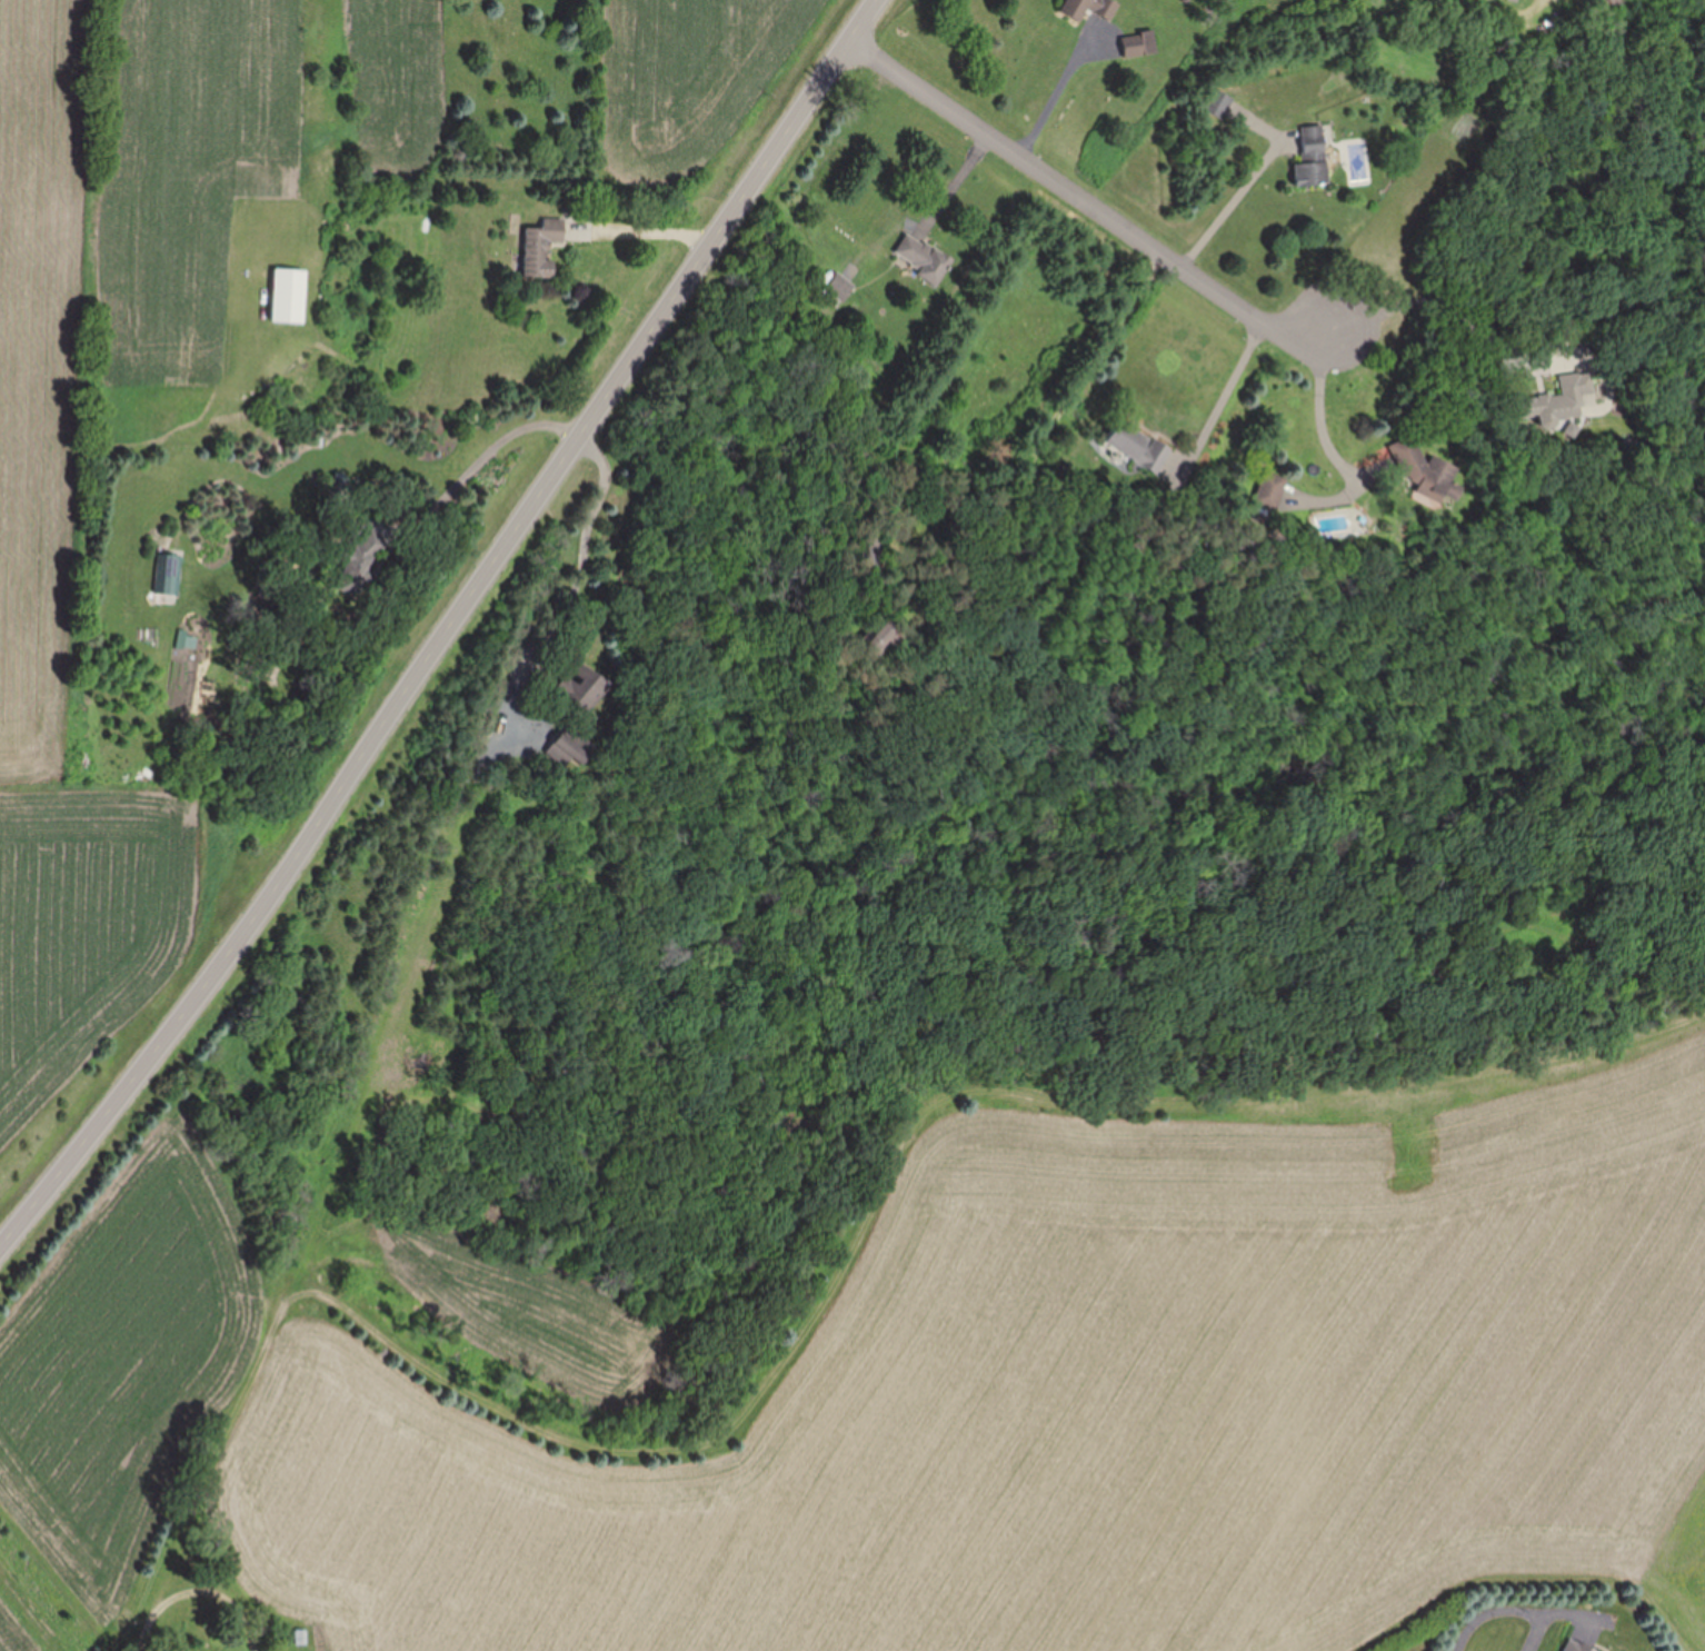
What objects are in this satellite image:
building: (1088, 9)
building: (1138, 44)
road: (1064, 84)
building: (1216, 105)
building: (1312, 159)
road: (954, 185)
road: (1083, 199)
road: (1233, 202)
road: (635, 230)
building: (537, 250)
building: (921, 259)
building: (288, 297)
road: (1409, 302)
building: (1562, 401)
road: (1219, 406)
road: (1322, 416)
road: (560, 429)
road: (1050, 432)
building: (1135, 446)
building: (1427, 477)
building: (1266, 493)
building: (166, 576)
road: (446, 630)
building: (581, 689)
building: (567, 755)
road: (1539, 1611)
road: (1486, 1613)
building: (310, 1638)
road: (120, 1641)
building: (1575, 1647)

